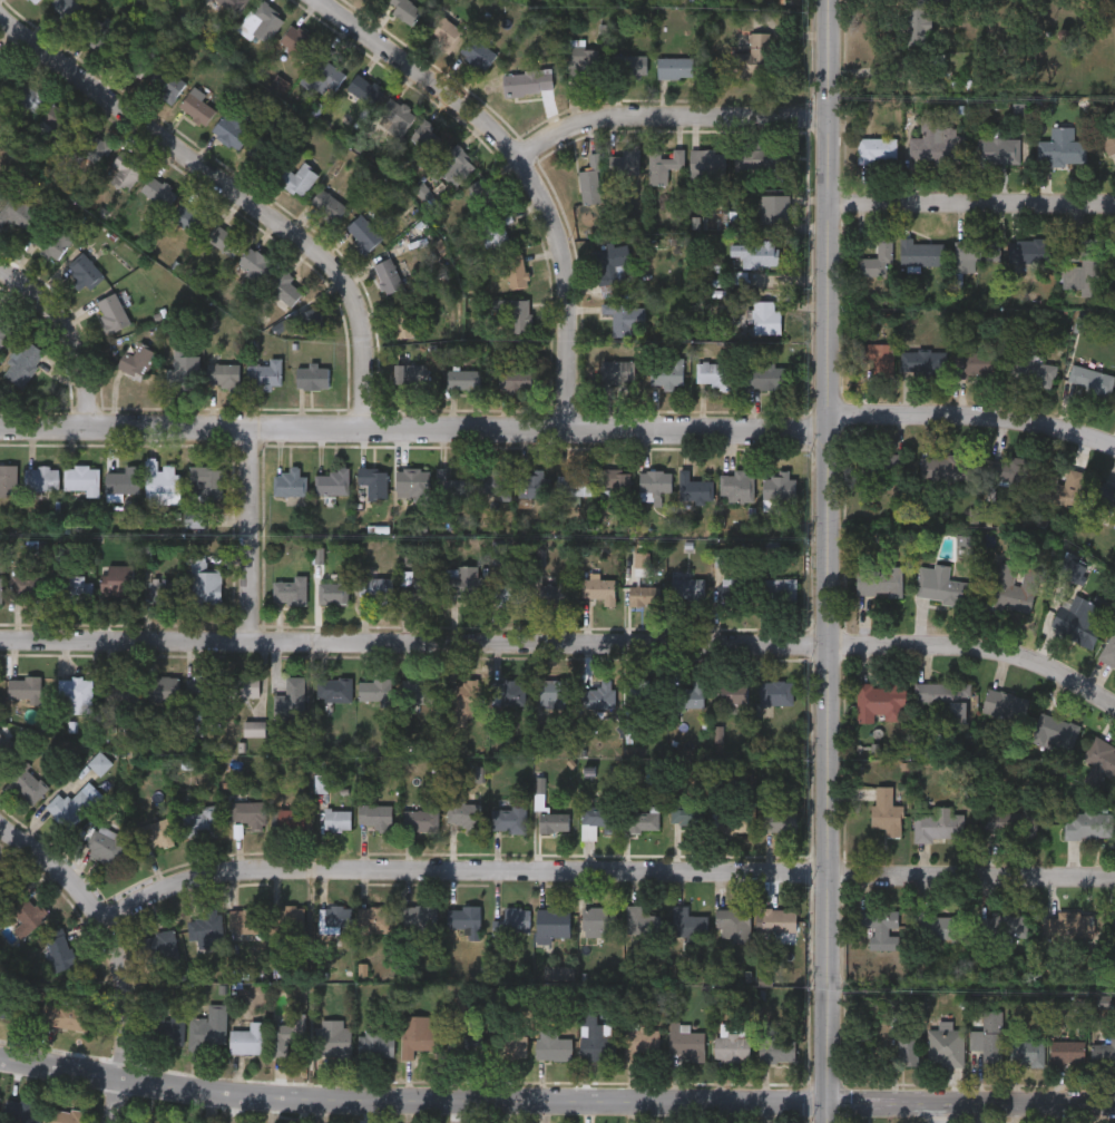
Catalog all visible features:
building: (33, 0)
building: (232, 6)
building: (403, 8)
building: (65, 11)
building: (261, 21)
building: (917, 23)
building: (441, 31)
building: (95, 32)
building: (296, 41)
building: (476, 52)
building: (756, 57)
building: (136, 59)
building: (580, 60)
building: (630, 65)
building: (674, 66)
building: (322, 71)
building: (3, 76)
building: (526, 80)
building: (164, 81)
building: (27, 95)
building: (380, 100)
building: (196, 106)
building: (58, 120)
road: (669, 127)
building: (231, 128)
building: (427, 135)
building: (1106, 136)
building: (933, 143)
building: (91, 147)
building: (1059, 147)
building: (877, 149)
building: (996, 150)
building: (267, 154)
building: (761, 159)
building: (623, 162)
building: (663, 163)
building: (453, 164)
building: (707, 164)
building: (125, 169)
road: (531, 170)
building: (297, 178)
building: (589, 180)
building: (157, 191)
road: (238, 191)
building: (481, 191)
building: (0, 197)
building: (326, 204)
road: (969, 204)
building: (774, 208)
building: (17, 212)
building: (189, 216)
building: (362, 232)
building: (496, 232)
building: (223, 238)
building: (50, 243)
building: (754, 252)
building: (920, 252)
building: (974, 252)
building: (1030, 252)
building: (877, 260)
building: (255, 263)
building: (1094, 266)
building: (608, 267)
building: (1114, 267)
building: (84, 271)
building: (514, 271)
building: (388, 274)
building: (284, 287)
building: (110, 312)
building: (514, 312)
building: (310, 318)
building: (619, 318)
building: (764, 318)
building: (401, 320)
building: (3, 331)
road: (75, 331)
building: (135, 360)
building: (21, 361)
building: (874, 361)
building: (976, 361)
building: (922, 363)
building: (183, 368)
building: (665, 370)
building: (616, 372)
building: (1031, 372)
building: (714, 373)
building: (264, 374)
building: (224, 375)
building: (411, 375)
building: (515, 377)
building: (763, 377)
building: (311, 378)
building: (462, 378)
building: (1089, 380)
road: (970, 417)
road: (411, 432)
building: (882, 463)
building: (945, 465)
building: (81, 477)
building: (41, 478)
building: (411, 479)
building: (8, 480)
building: (121, 480)
building: (160, 481)
building: (205, 481)
building: (495, 481)
building: (288, 482)
building: (331, 482)
building: (531, 482)
building: (573, 482)
building: (615, 482)
building: (653, 482)
building: (375, 485)
building: (776, 485)
building: (735, 486)
building: (1062, 486)
building: (692, 487)
building: (451, 488)
building: (1103, 501)
road: (254, 536)
road: (823, 561)
building: (879, 579)
building: (117, 580)
building: (206, 580)
building: (464, 583)
building: (939, 585)
building: (30, 586)
building: (1014, 587)
building: (378, 588)
building: (1, 589)
building: (77, 589)
building: (420, 589)
building: (598, 589)
building: (688, 589)
building: (166, 590)
building: (291, 590)
building: (334, 590)
building: (782, 590)
building: (556, 593)
building: (511, 594)
building: (735, 594)
building: (645, 596)
building: (1077, 621)
road: (565, 642)
building: (1108, 648)
building: (244, 686)
building: (164, 687)
building: (26, 689)
building: (334, 689)
building: (375, 689)
building: (421, 690)
building: (203, 691)
building: (554, 691)
building: (509, 692)
building: (645, 692)
building: (777, 692)
building: (76, 693)
building: (607, 694)
building: (734, 694)
building: (689, 695)
building: (463, 697)
building: (292, 699)
building: (945, 699)
building: (880, 701)
building: (117, 702)
building: (1004, 704)
building: (1054, 733)
building: (6, 751)
building: (1101, 755)
building: (100, 762)
building: (70, 808)
building: (248, 811)
building: (463, 811)
building: (884, 813)
building: (376, 816)
building: (510, 818)
building: (687, 818)
building: (732, 819)
building: (285, 820)
building: (339, 820)
building: (597, 820)
building: (645, 820)
building: (781, 820)
building: (421, 821)
building: (202, 822)
building: (555, 822)
building: (1011, 822)
building: (1090, 824)
building: (937, 827)
building: (156, 832)
building: (106, 846)
road: (599, 870)
building: (2, 886)
building: (26, 914)
building: (292, 917)
building: (335, 917)
building: (420, 918)
building: (246, 919)
building: (378, 919)
building: (466, 919)
building: (779, 919)
building: (514, 920)
building: (644, 920)
building: (599, 921)
building: (688, 922)
building: (551, 924)
building: (734, 924)
building: (937, 926)
building: (1008, 926)
building: (1070, 926)
building: (205, 928)
building: (880, 928)
building: (159, 946)
building: (59, 949)
road: (109, 953)
building: (7, 1003)
building: (66, 1014)
building: (209, 1025)
building: (168, 1027)
building: (415, 1034)
building: (291, 1035)
building: (334, 1037)
building: (595, 1037)
building: (250, 1038)
building: (640, 1041)
building: (686, 1042)
building: (775, 1043)
building: (375, 1045)
building: (515, 1045)
building: (551, 1045)
building: (732, 1046)
building: (945, 1047)
building: (991, 1047)
building: (906, 1051)
building: (1028, 1053)
building: (1067, 1053)
building: (1103, 1055)
road: (409, 1097)
road: (968, 1102)
building: (1, 1109)
building: (26, 1112)
road: (939, 1112)

